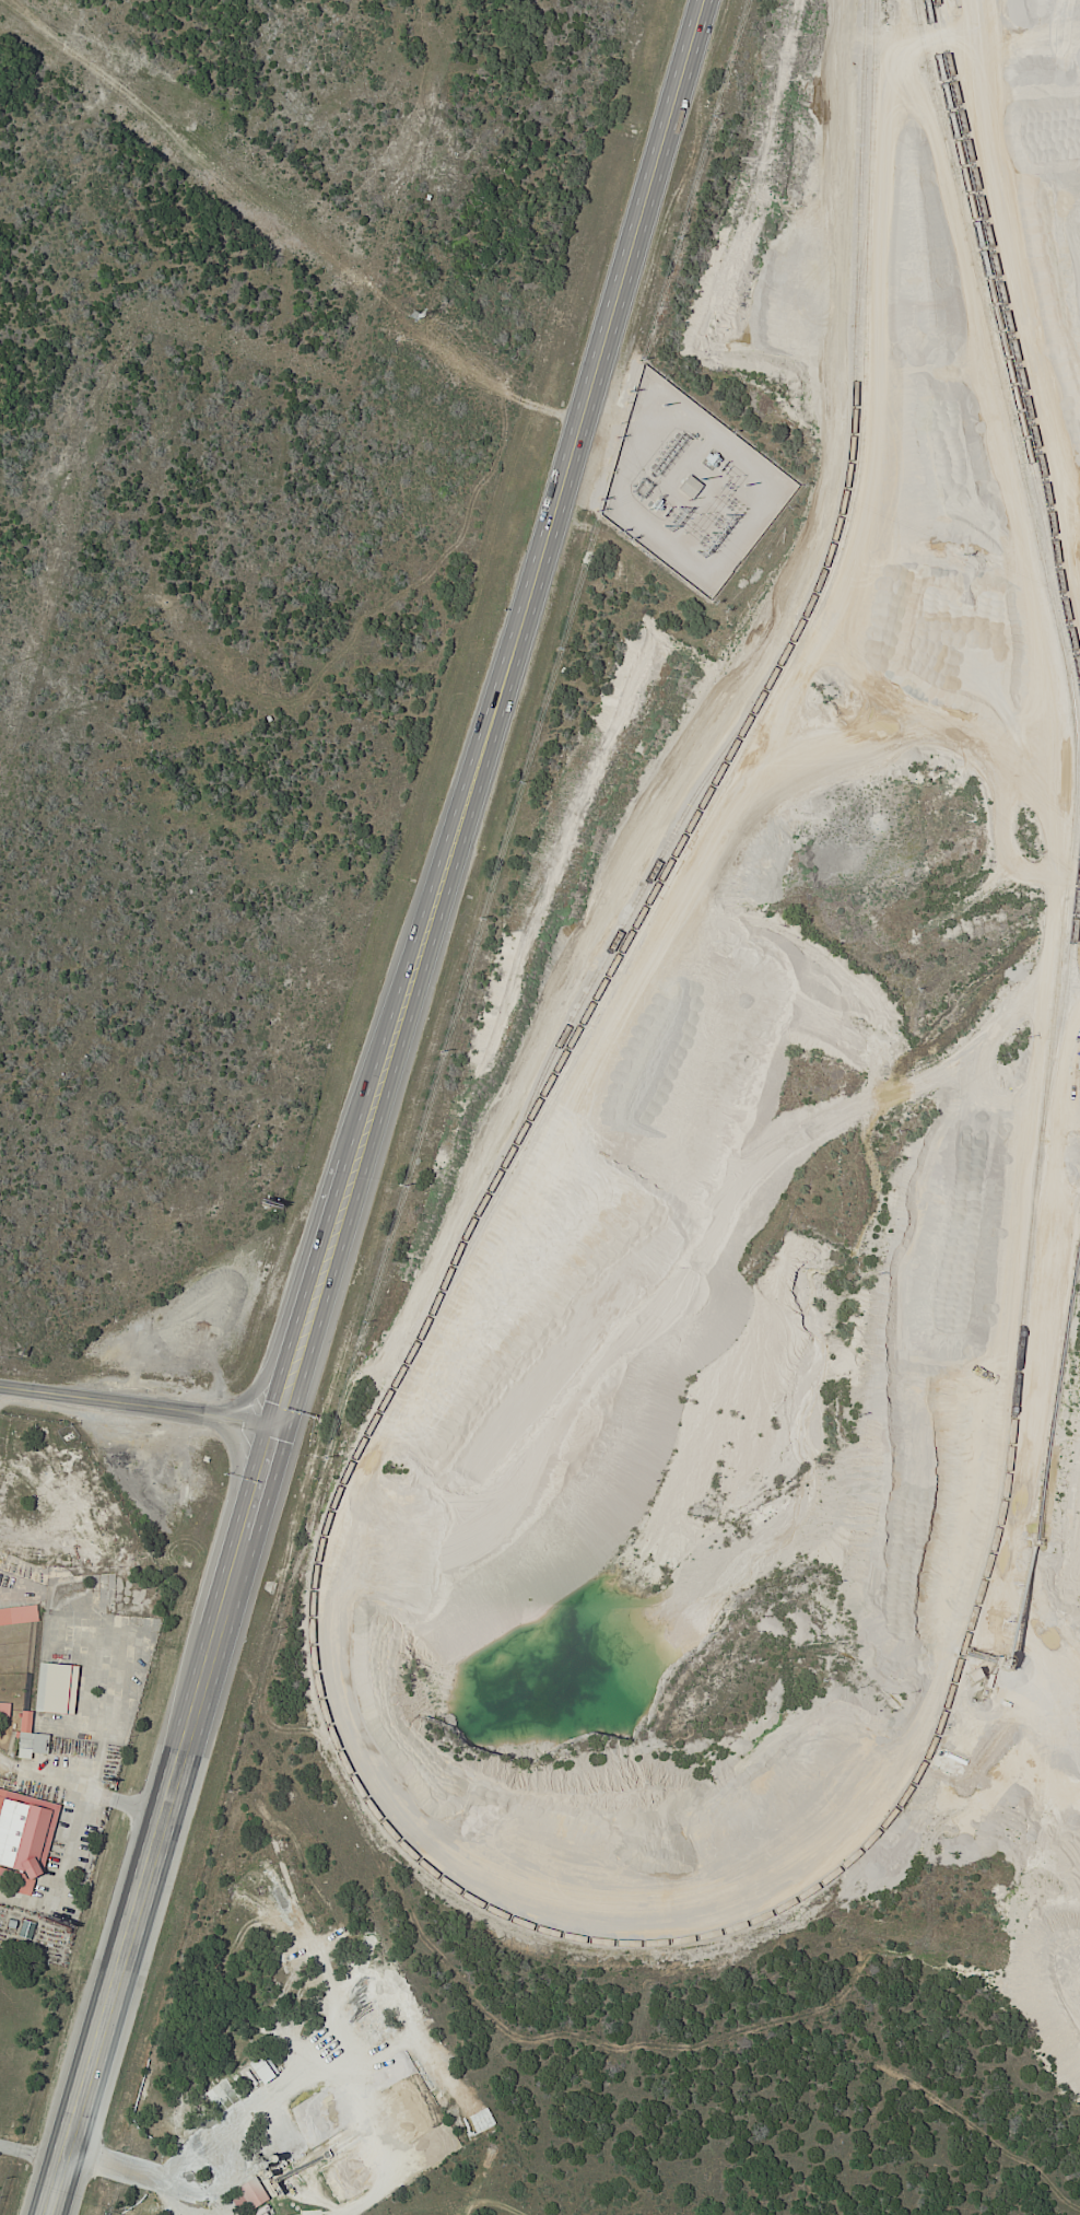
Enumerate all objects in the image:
road: (973, 8)
road: (892, 33)
power tower: (410, 314)
railway: (1006, 322)
railway: (1001, 339)
power substation: (686, 486)
road: (491, 713)
quarry: (789, 1155)
road: (139, 1404)
traffic signals: (279, 1426)
building: (19, 1617)
building: (56, 1689)
road: (91, 1709)
building: (30, 1738)
road: (78, 1796)
road: (166, 1821)
building: (24, 1838)
railway: (578, 1939)
road: (324, 2070)
road: (33, 2153)
road: (119, 2162)
building: (251, 2194)
road: (168, 2197)
road: (490, 2204)

